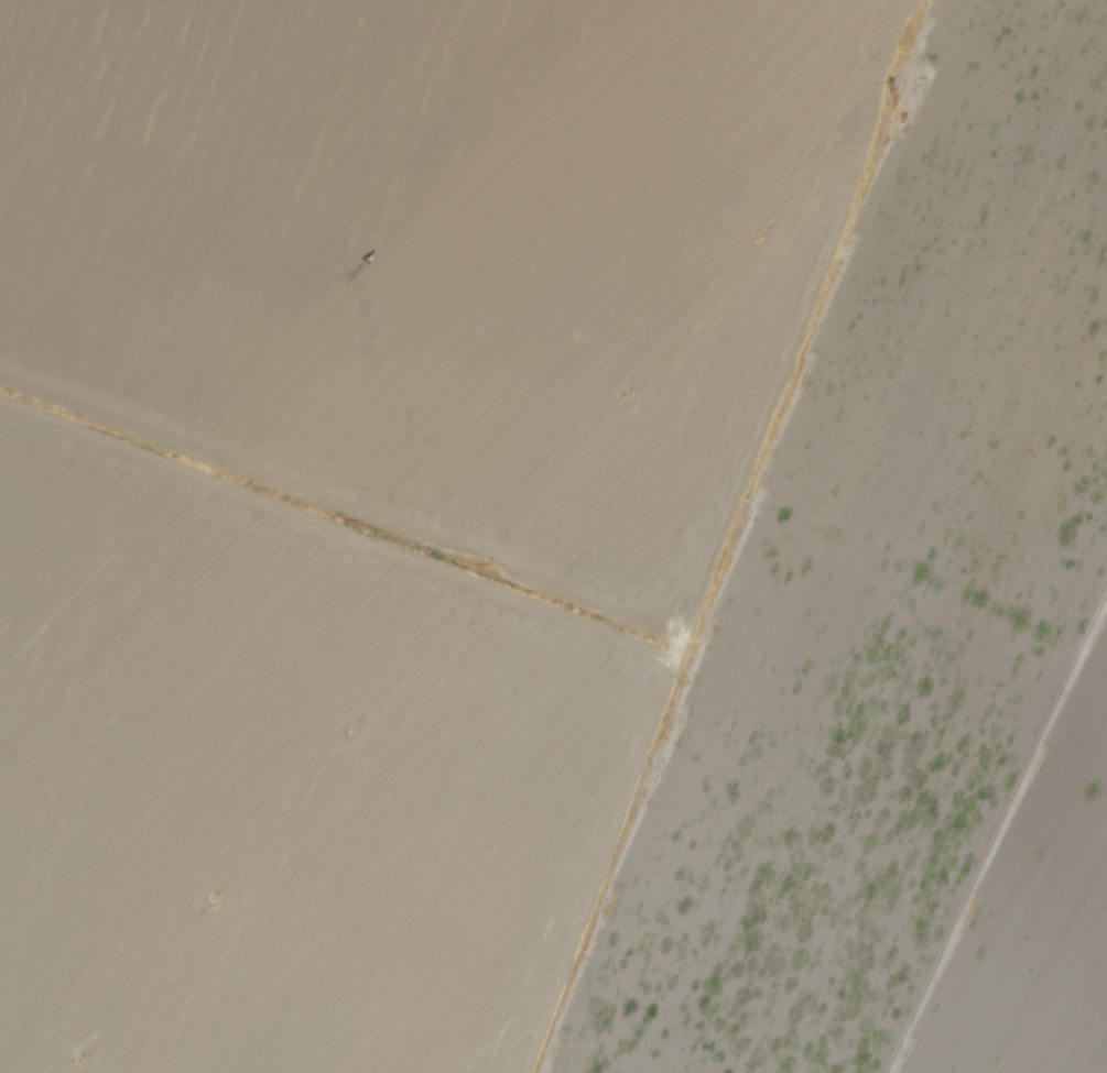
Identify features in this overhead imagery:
crop: (369, 488)

